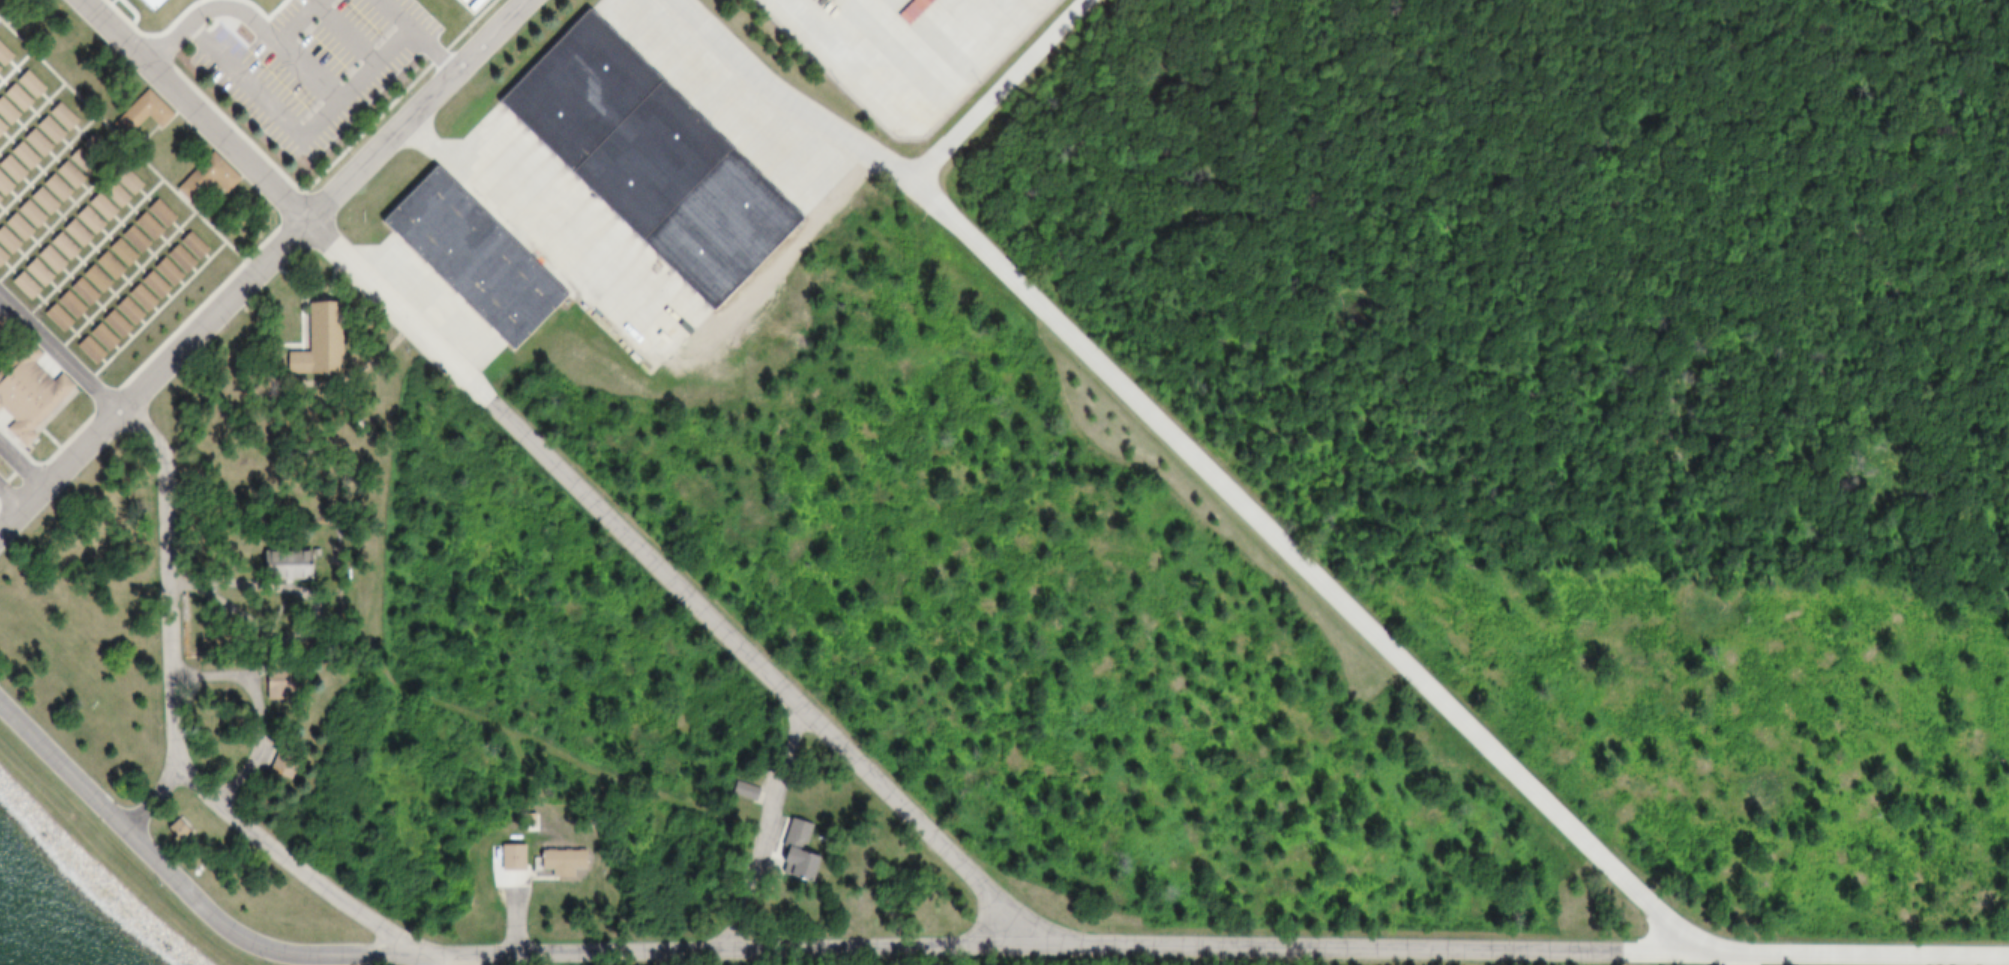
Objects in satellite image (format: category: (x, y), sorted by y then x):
building: (3, 3)
building: (149, 5)
road: (209, 12)
road: (298, 22)
road: (345, 36)
road: (432, 51)
parking lot: (903, 54)
building: (2, 57)
road: (14, 66)
building: (0, 69)
parking lot: (307, 70)
road: (360, 82)
building: (25, 83)
road: (999, 86)
building: (12, 97)
road: (261, 102)
building: (139, 111)
building: (5, 113)
road: (30, 114)
building: (57, 116)
building: (0, 128)
building: (44, 130)
building: (31, 142)
road: (124, 146)
building: (91, 147)
building: (17, 157)
building: (78, 161)
road: (46, 162)
building: (645, 162)
building: (7, 172)
building: (204, 173)
building: (65, 174)
building: (123, 180)
building: (2, 188)
building: (51, 188)
building: (110, 194)
building: (0, 199)
building: (38, 201)
building: (97, 207)
road: (63, 211)
building: (155, 212)
building: (26, 214)
building: (83, 221)
building: (142, 226)
building: (13, 227)
building: (70, 234)
building: (129, 239)
road: (527, 239)
building: (5, 244)
building: (188, 246)
building: (58, 247)
road: (91, 248)
building: (115, 253)
building: (1, 257)
road: (260, 257)
building: (175, 259)
building: (468, 259)
building: (46, 260)
building: (102, 266)
building: (161, 272)
building: (32, 274)
road: (124, 279)
building: (90, 280)
building: (20, 286)
building: (148, 286)
building: (78, 292)
building: (143, 298)
building: (134, 299)
building: (64, 306)
road: (154, 309)
building: (122, 313)
building: (52, 318)
building: (110, 325)
building: (1, 327)
building: (97, 339)
building: (321, 342)
road: (56, 346)
building: (290, 349)
building: (84, 351)
building: (27, 389)
road: (1203, 458)
road: (17, 466)
road: (570, 472)
road: (5, 501)
building: (274, 562)
road: (176, 722)
building: (285, 763)
building: (738, 790)
road: (164, 805)
building: (525, 819)
building: (532, 823)
road: (771, 825)
building: (181, 829)
building: (788, 849)
building: (506, 856)
building: (555, 862)
road: (954, 943)
road: (452, 957)

